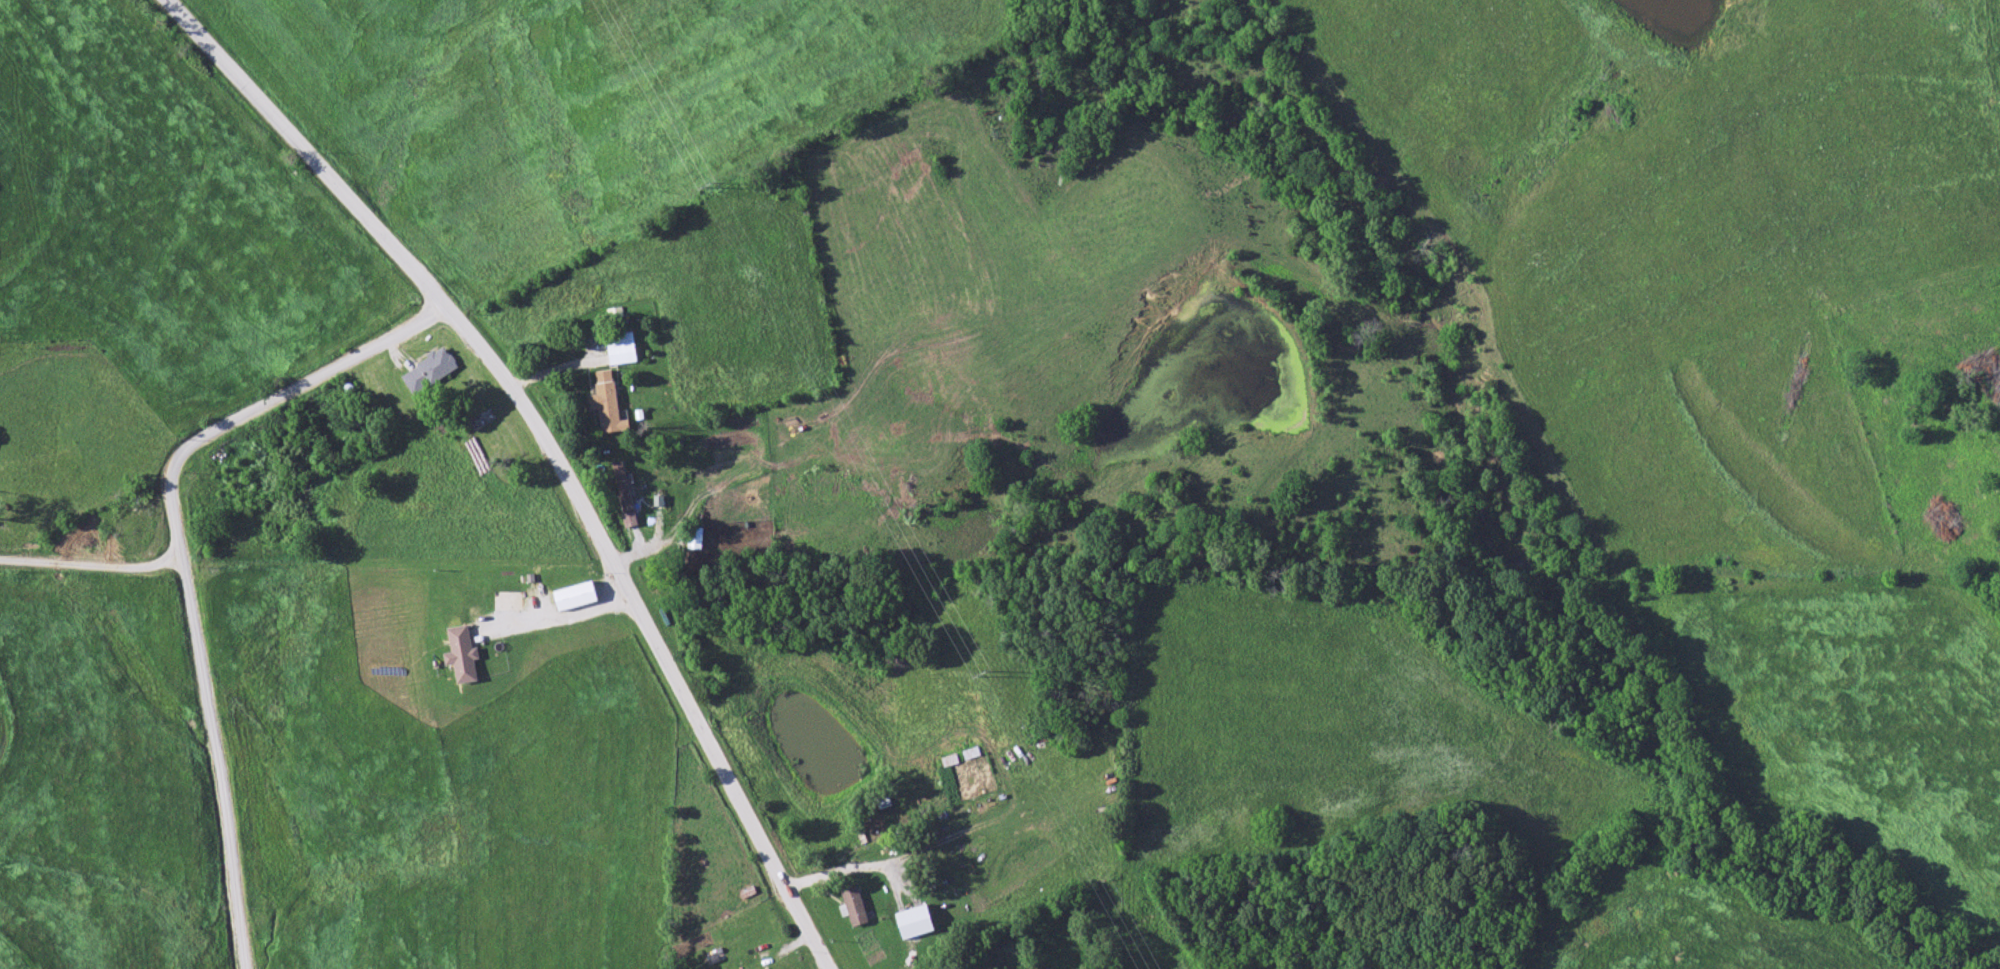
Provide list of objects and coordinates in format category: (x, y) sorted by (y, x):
power tower: (709, 188)
road: (291, 404)
road: (549, 452)
road: (84, 535)
road: (559, 618)
power tower: (979, 677)
road: (204, 752)

